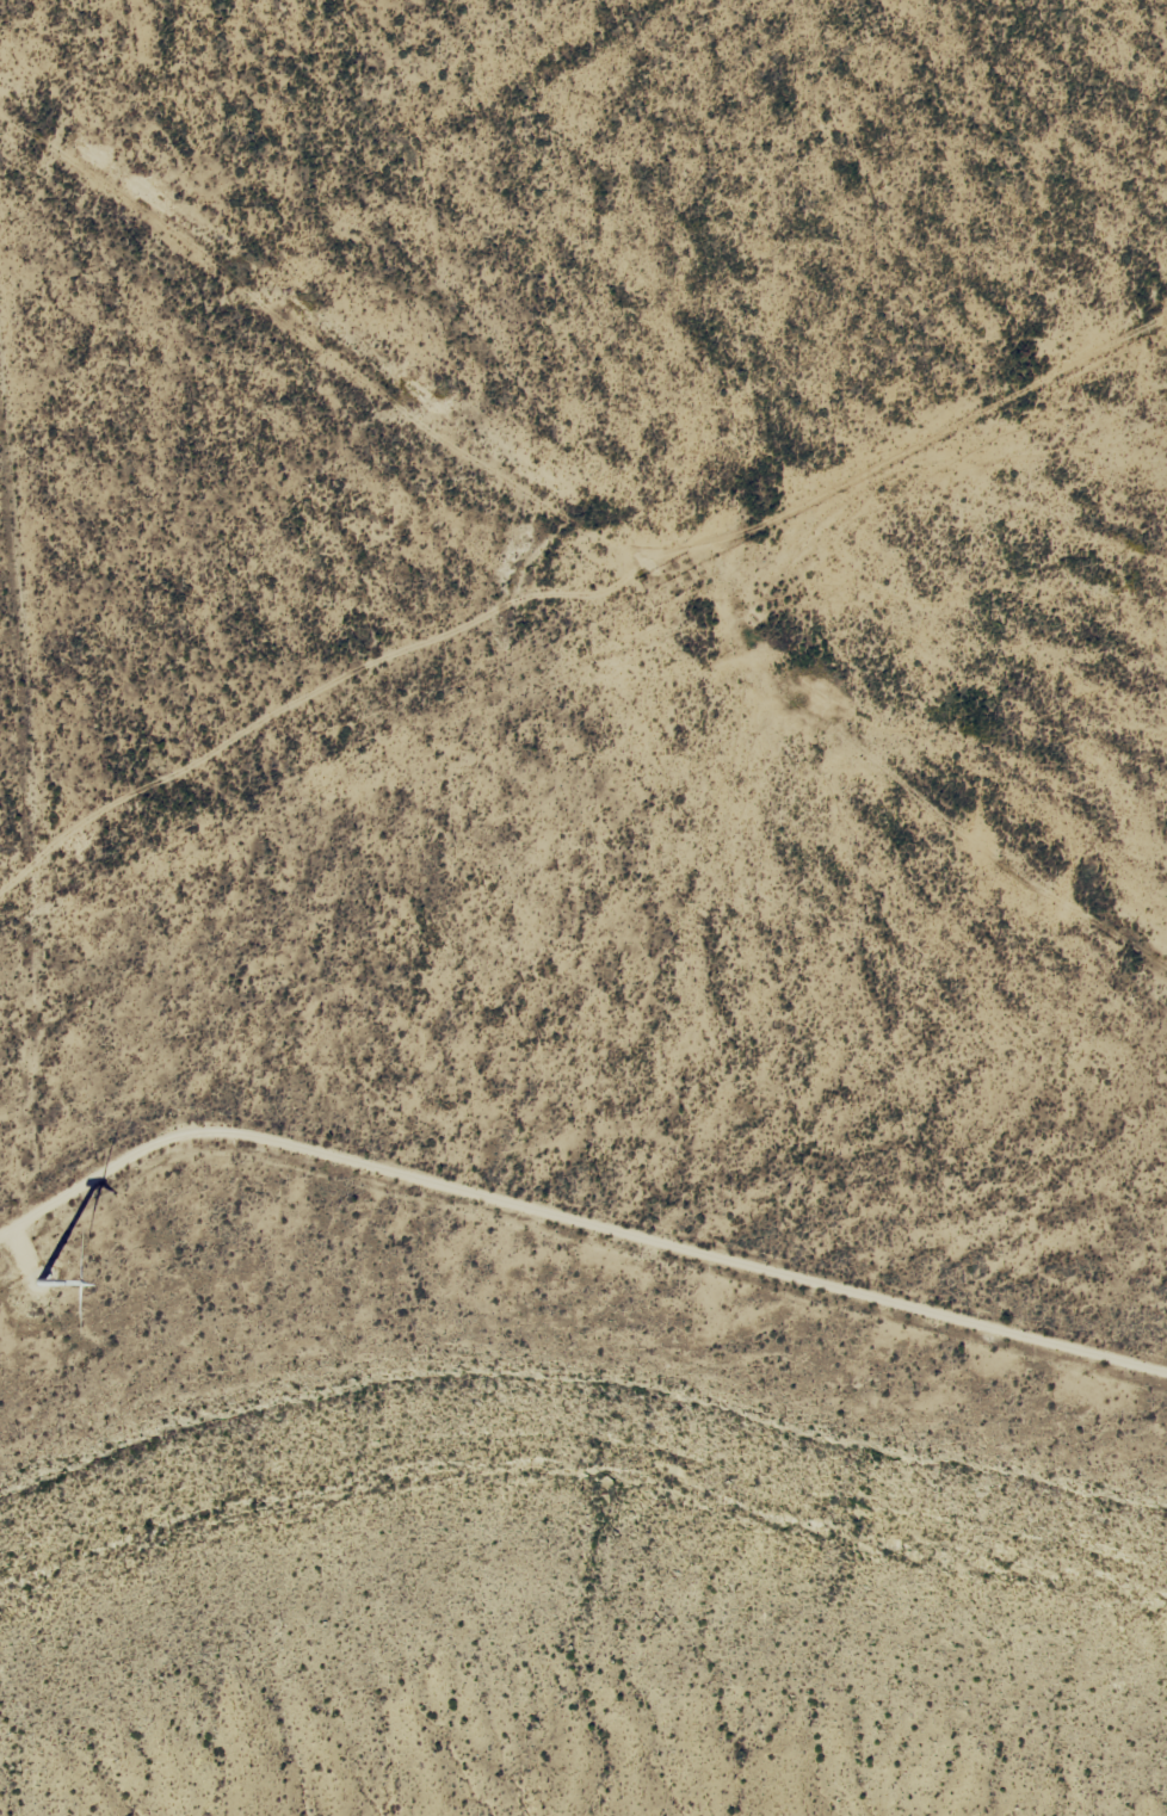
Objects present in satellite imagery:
wind turbine: (36, 1275)

